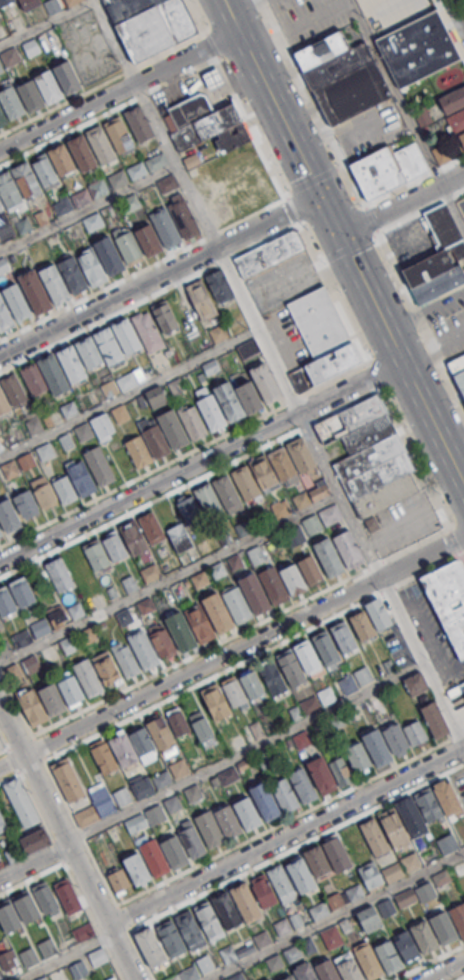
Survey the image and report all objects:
building: (6, 2)
building: (72, 2)
building: (30, 4)
road: (239, 4)
building: (52, 6)
road: (457, 11)
building: (0, 12)
building: (0, 13)
parking lot: (311, 19)
road: (46, 22)
building: (152, 25)
road: (450, 27)
road: (115, 41)
building: (419, 48)
building: (10, 57)
building: (1, 68)
building: (69, 74)
building: (342, 77)
building: (213, 79)
building: (50, 84)
road: (103, 85)
road: (119, 90)
road: (394, 92)
building: (32, 93)
building: (453, 99)
building: (13, 101)
road: (109, 110)
building: (192, 110)
road: (319, 115)
building: (422, 116)
building: (141, 123)
building: (208, 127)
building: (120, 134)
building: (235, 136)
building: (461, 138)
building: (84, 150)
building: (191, 160)
building: (147, 165)
building: (387, 168)
building: (118, 178)
building: (28, 179)
road: (413, 179)
building: (168, 183)
building: (10, 189)
building: (81, 197)
traffic signals: (319, 197)
building: (130, 203)
road: (400, 204)
building: (63, 205)
road: (88, 208)
road: (452, 208)
road: (421, 210)
building: (186, 217)
building: (93, 221)
building: (167, 227)
traffic signals: (338, 236)
building: (148, 239)
building: (0, 242)
road: (342, 245)
building: (131, 247)
building: (268, 253)
building: (111, 254)
building: (438, 258)
road: (143, 267)
building: (94, 268)
building: (74, 273)
road: (159, 277)
road: (324, 280)
building: (56, 283)
building: (219, 285)
building: (37, 291)
road: (148, 298)
building: (201, 299)
building: (18, 301)
building: (164, 316)
road: (421, 317)
building: (150, 332)
building: (220, 333)
building: (128, 335)
building: (320, 337)
building: (91, 351)
building: (72, 360)
building: (459, 368)
building: (56, 374)
building: (35, 379)
building: (112, 388)
road: (129, 395)
building: (156, 396)
building: (252, 396)
building: (3, 401)
building: (70, 409)
building: (214, 412)
road: (300, 412)
building: (122, 413)
building: (36, 425)
building: (103, 427)
building: (175, 428)
building: (85, 432)
building: (155, 437)
building: (140, 451)
building: (46, 452)
road: (182, 454)
building: (302, 454)
building: (370, 455)
building: (28, 461)
road: (200, 462)
building: (284, 464)
building: (101, 466)
building: (11, 470)
building: (266, 473)
building: (84, 479)
road: (189, 484)
building: (247, 484)
building: (43, 491)
building: (319, 492)
building: (229, 494)
building: (209, 499)
building: (26, 504)
building: (189, 508)
building: (280, 508)
building: (10, 515)
building: (321, 519)
building: (371, 524)
building: (243, 528)
building: (0, 534)
building: (294, 536)
building: (135, 537)
building: (180, 537)
building: (114, 545)
building: (348, 548)
building: (98, 554)
building: (256, 555)
building: (330, 556)
building: (310, 569)
building: (218, 570)
building: (150, 573)
building: (60, 574)
road: (170, 578)
building: (200, 579)
building: (293, 579)
building: (257, 593)
building: (449, 601)
building: (220, 613)
building: (378, 613)
building: (125, 616)
building: (58, 618)
building: (1, 623)
building: (362, 625)
building: (40, 627)
building: (183, 631)
road: (227, 637)
building: (22, 638)
building: (346, 639)
building: (68, 644)
building: (5, 648)
building: (328, 648)
building: (145, 649)
road: (232, 652)
building: (309, 657)
building: (128, 662)
building: (30, 664)
building: (292, 667)
building: (107, 668)
building: (13, 672)
building: (365, 676)
building: (90, 677)
building: (272, 677)
building: (463, 682)
building: (251, 683)
building: (415, 683)
building: (350, 684)
building: (70, 688)
building: (234, 692)
road: (181, 693)
building: (327, 696)
building: (54, 699)
road: (16, 702)
building: (218, 702)
building: (34, 706)
building: (312, 706)
building: (434, 718)
building: (177, 720)
building: (203, 728)
building: (161, 732)
road: (3, 740)
building: (303, 740)
building: (1, 744)
road: (38, 747)
building: (125, 749)
road: (247, 752)
road: (11, 757)
building: (103, 757)
building: (358, 757)
building: (180, 769)
building: (329, 773)
building: (228, 776)
building: (162, 779)
building: (69, 780)
building: (144, 786)
building: (304, 786)
building: (195, 793)
building: (285, 794)
building: (122, 796)
building: (449, 797)
building: (266, 802)
building: (23, 803)
building: (174, 805)
building: (430, 806)
road: (37, 808)
building: (249, 814)
building: (157, 815)
building: (412, 815)
building: (88, 816)
building: (229, 822)
building: (2, 825)
road: (276, 825)
building: (395, 827)
building: (211, 829)
building: (375, 836)
road: (286, 839)
building: (193, 840)
building: (34, 841)
road: (70, 842)
building: (447, 843)
building: (177, 853)
building: (12, 854)
building: (338, 855)
building: (157, 859)
road: (271, 859)
building: (318, 861)
road: (35, 862)
building: (410, 862)
building: (138, 869)
building: (393, 871)
building: (371, 875)
building: (302, 876)
building: (118, 879)
building: (282, 882)
road: (77, 889)
building: (354, 891)
building: (265, 892)
building: (68, 894)
building: (47, 897)
building: (245, 900)
building: (335, 900)
building: (28, 906)
building: (386, 907)
building: (318, 910)
building: (228, 911)
road: (337, 915)
building: (10, 916)
building: (458, 918)
building: (210, 919)
building: (369, 919)
building: (283, 926)
building: (443, 927)
building: (192, 931)
building: (83, 932)
building: (424, 936)
building: (331, 937)
building: (245, 946)
building: (152, 947)
building: (406, 947)
building: (49, 948)
building: (293, 952)
building: (388, 955)
road: (66, 957)
building: (99, 957)
building: (30, 958)
building: (7, 959)
road: (427, 961)
building: (368, 963)
building: (205, 964)
building: (79, 969)
building: (350, 969)
road: (445, 970)
building: (328, 971)
building: (306, 972)
building: (186, 974)
building: (236, 976)
building: (289, 977)
building: (42, 978)
building: (114, 978)
road: (461, 978)
building: (119, 979)
building: (270, 979)

